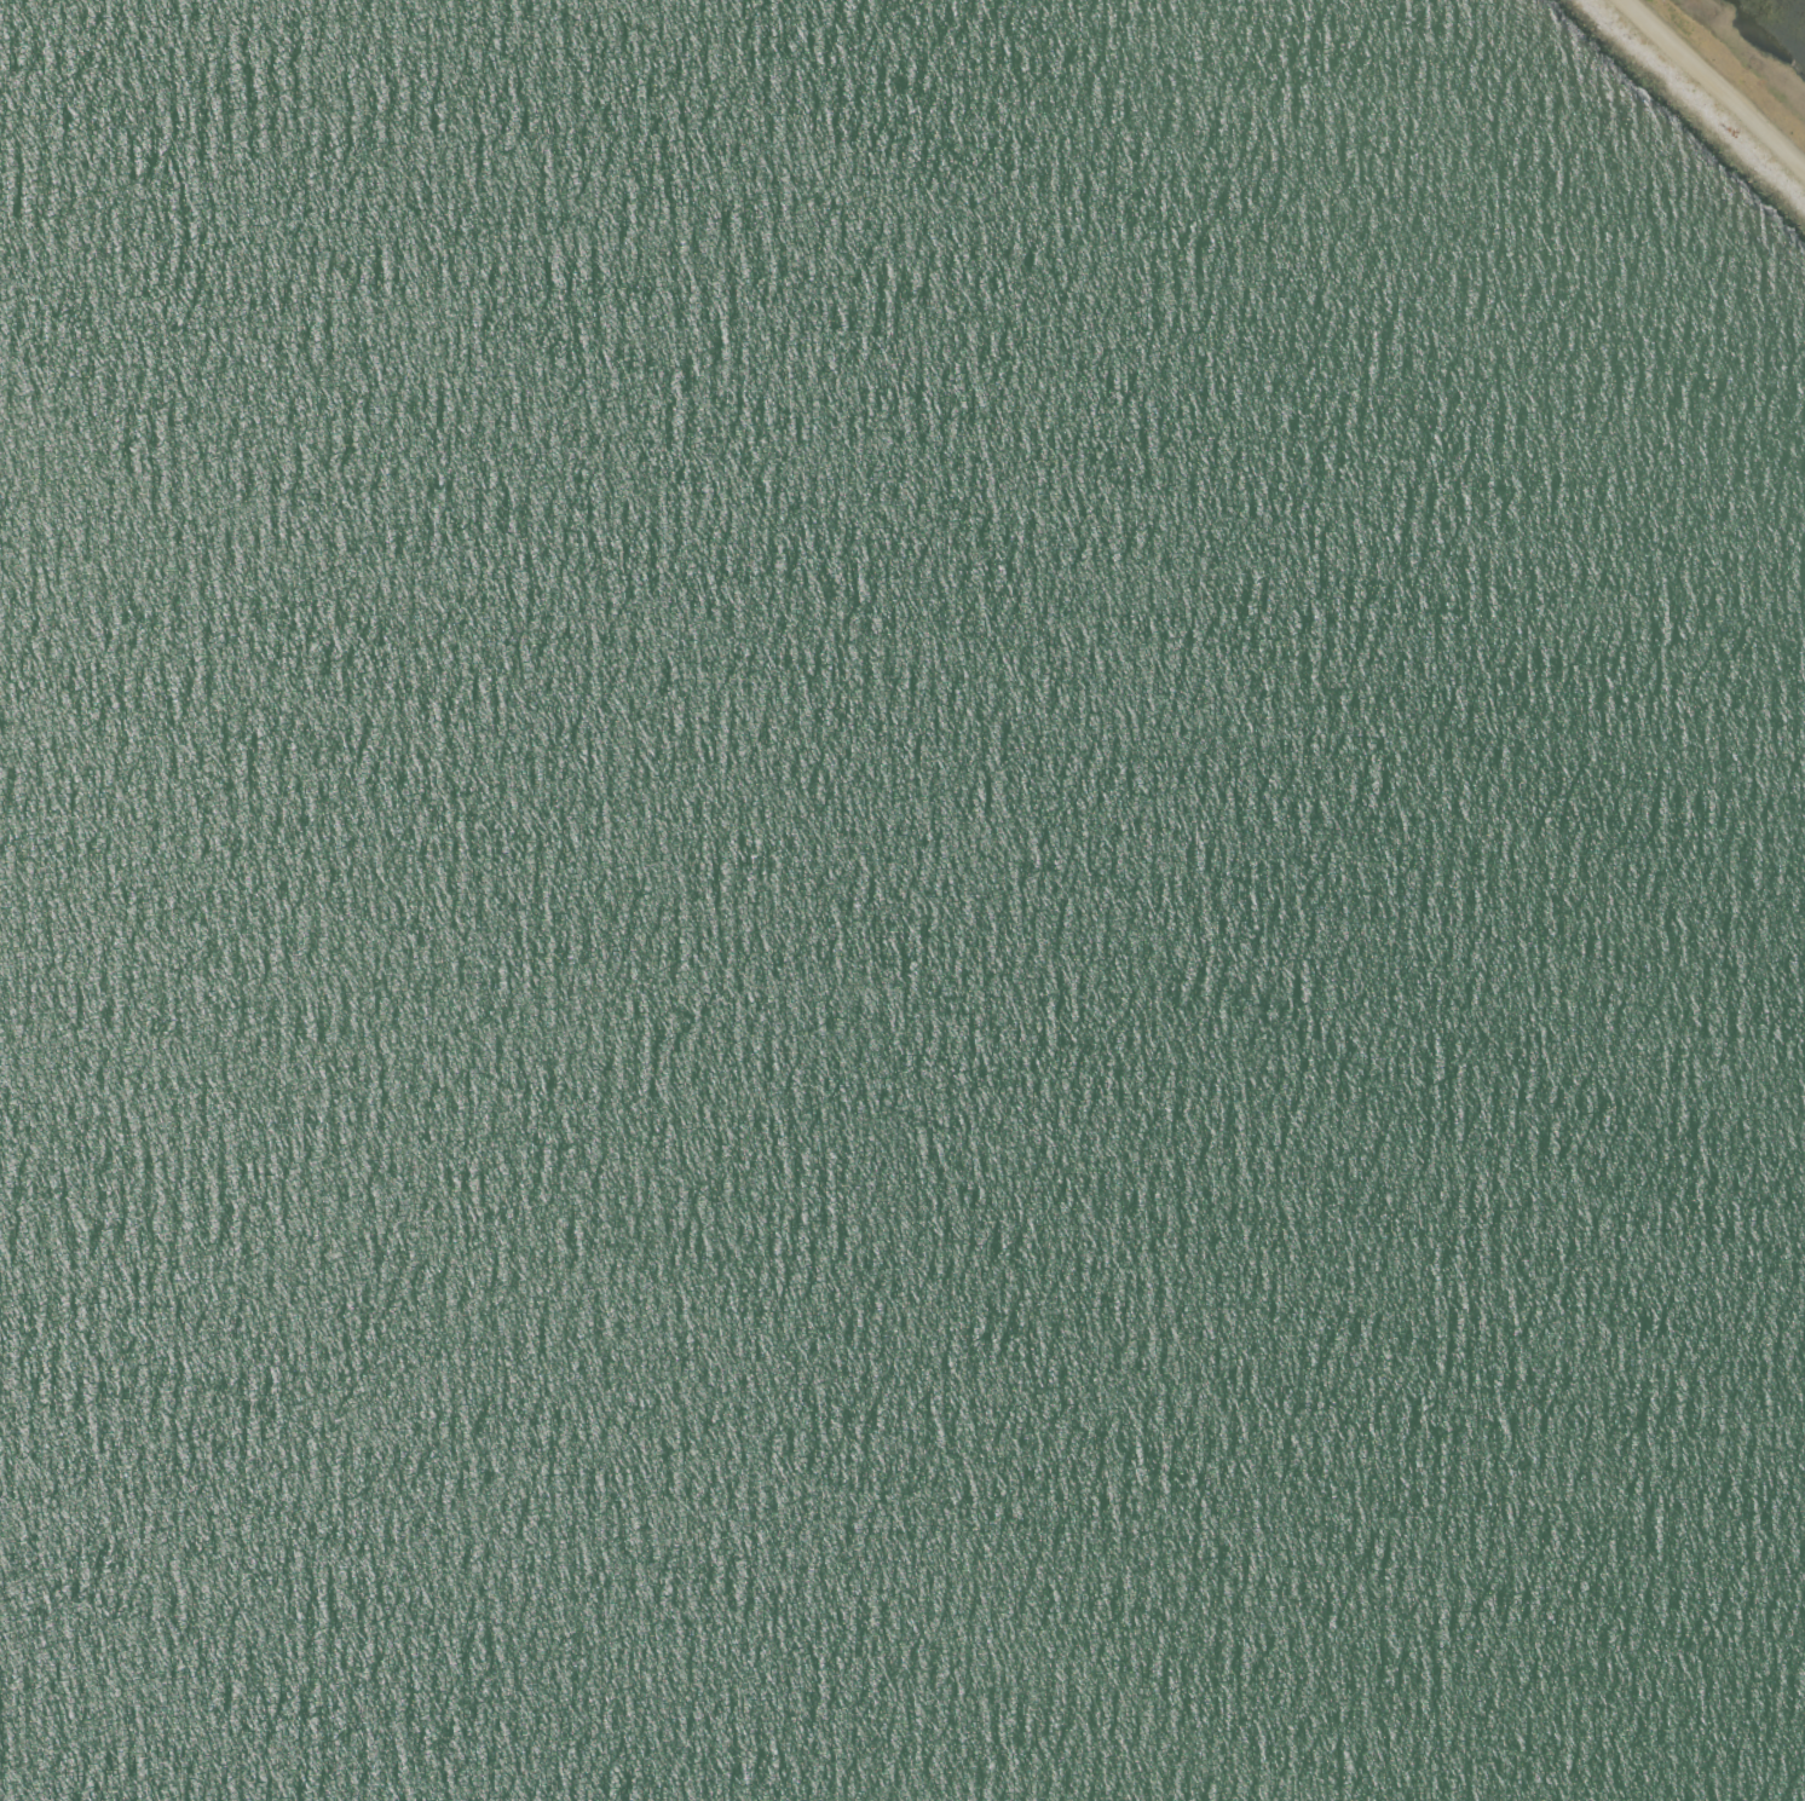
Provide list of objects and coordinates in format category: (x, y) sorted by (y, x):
airport: (1724, 73)

